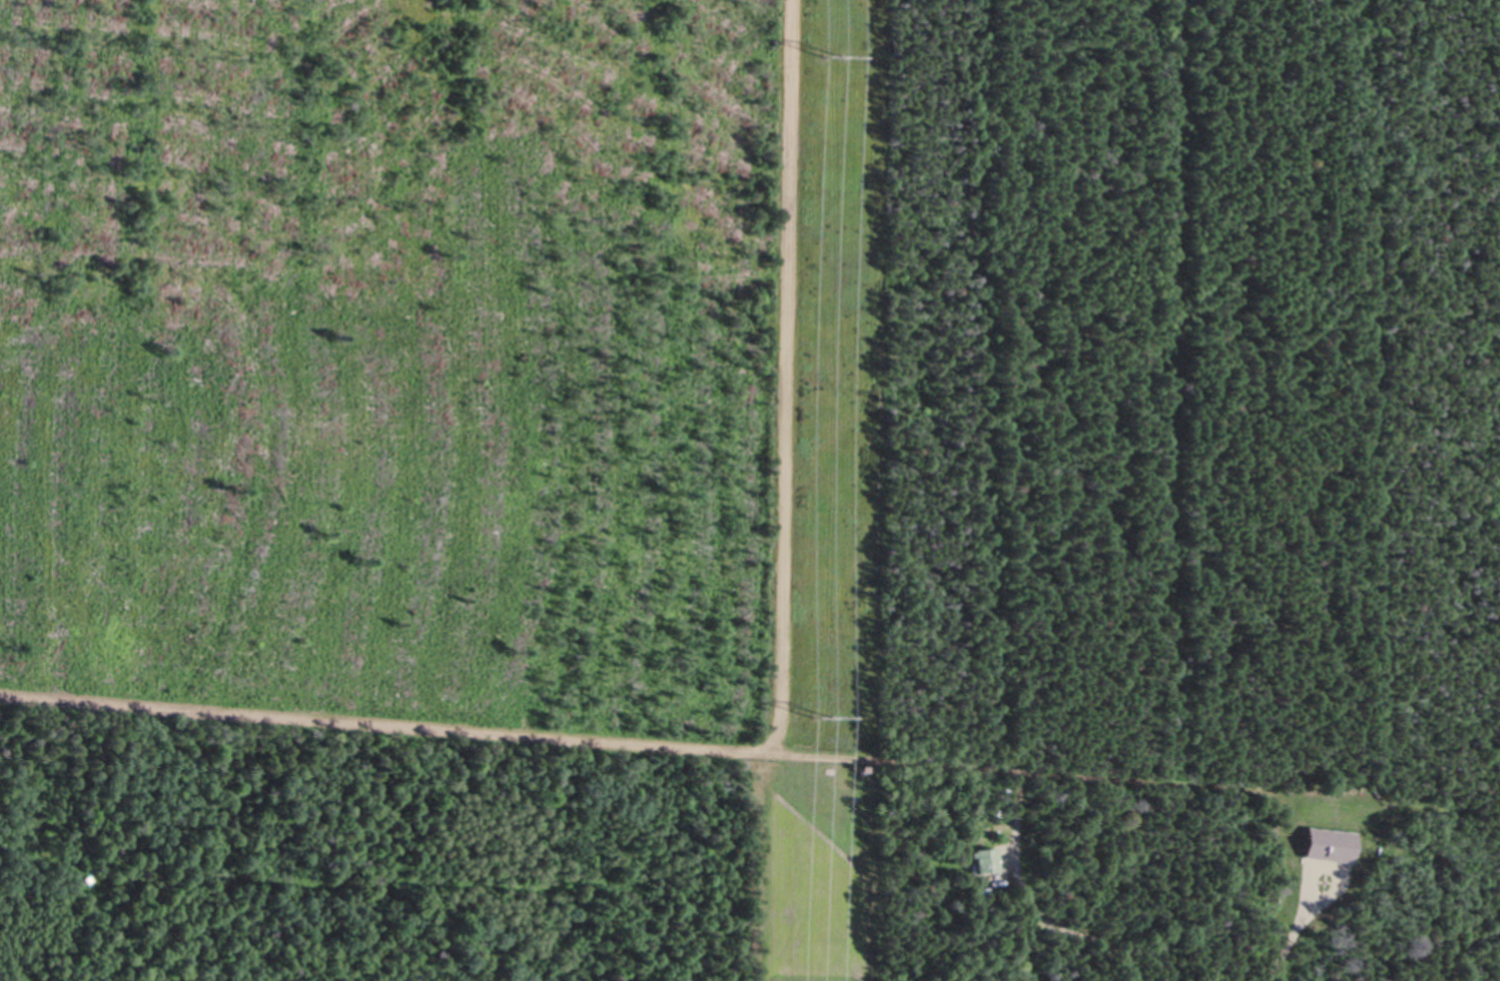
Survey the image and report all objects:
power tower: (833, 55)
road: (788, 377)
power tower: (823, 717)
road: (750, 748)
building: (982, 860)
road: (1030, 898)

